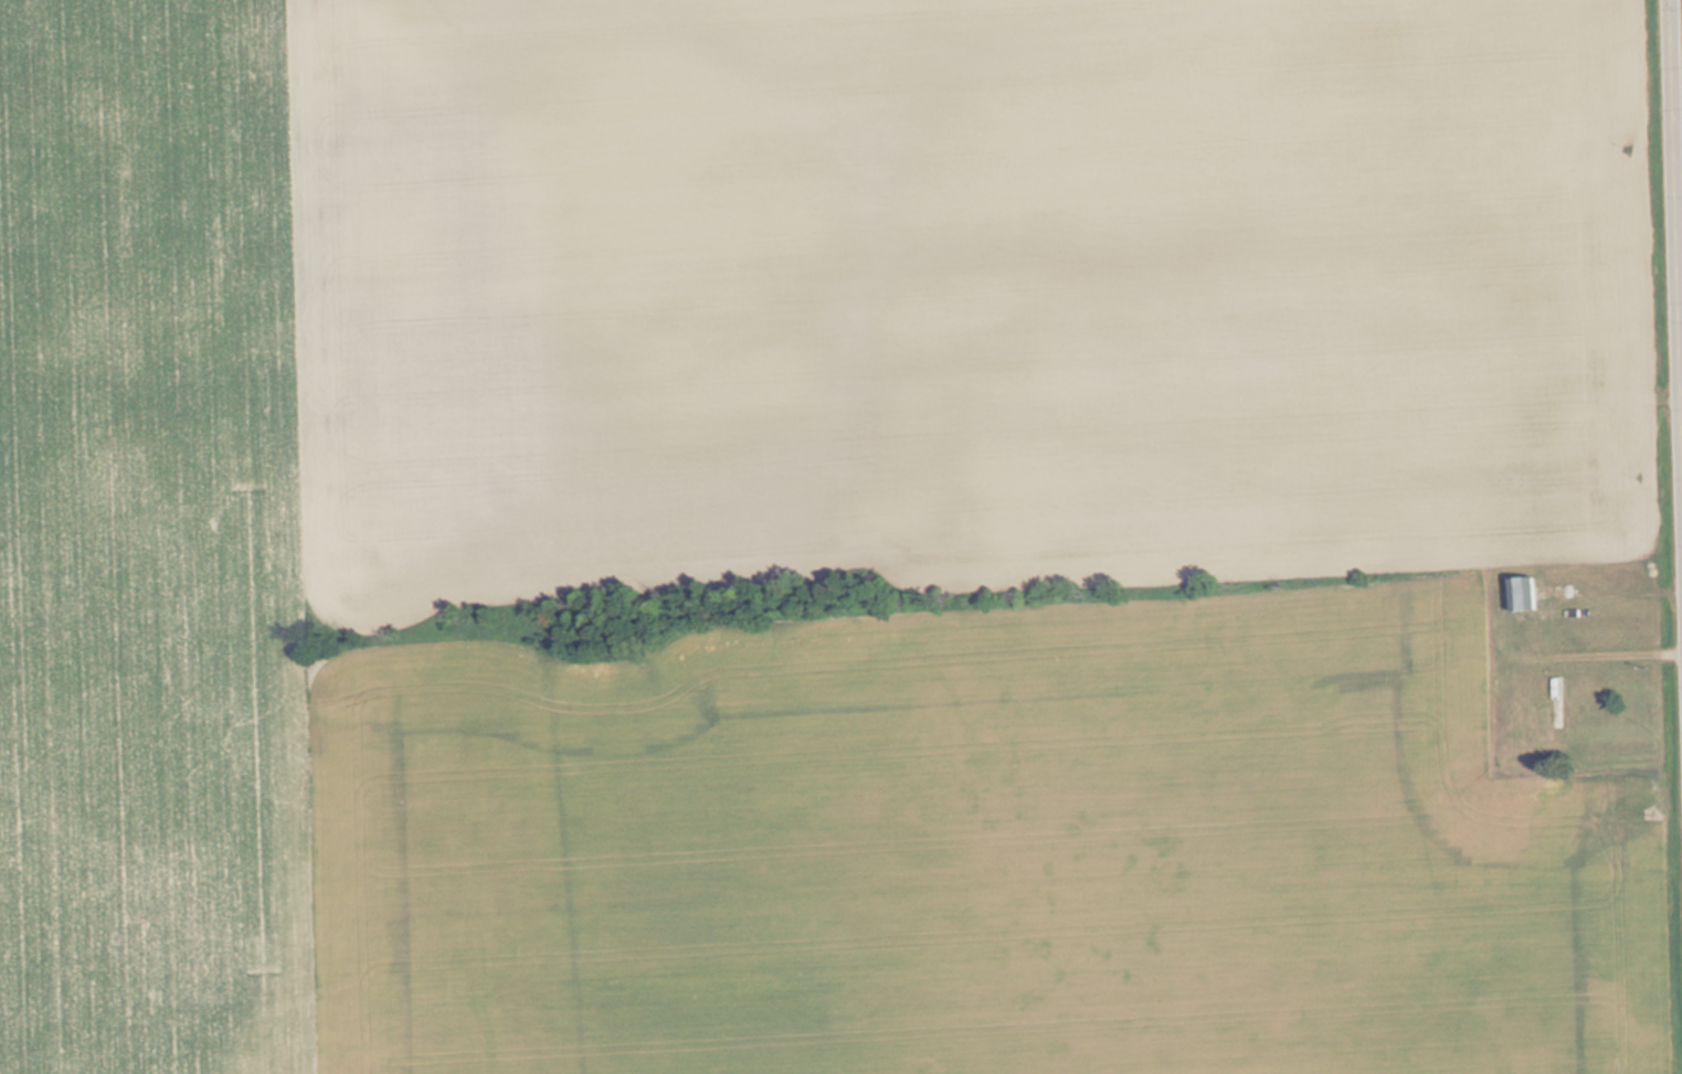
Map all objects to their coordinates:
road: (1681, 36)

